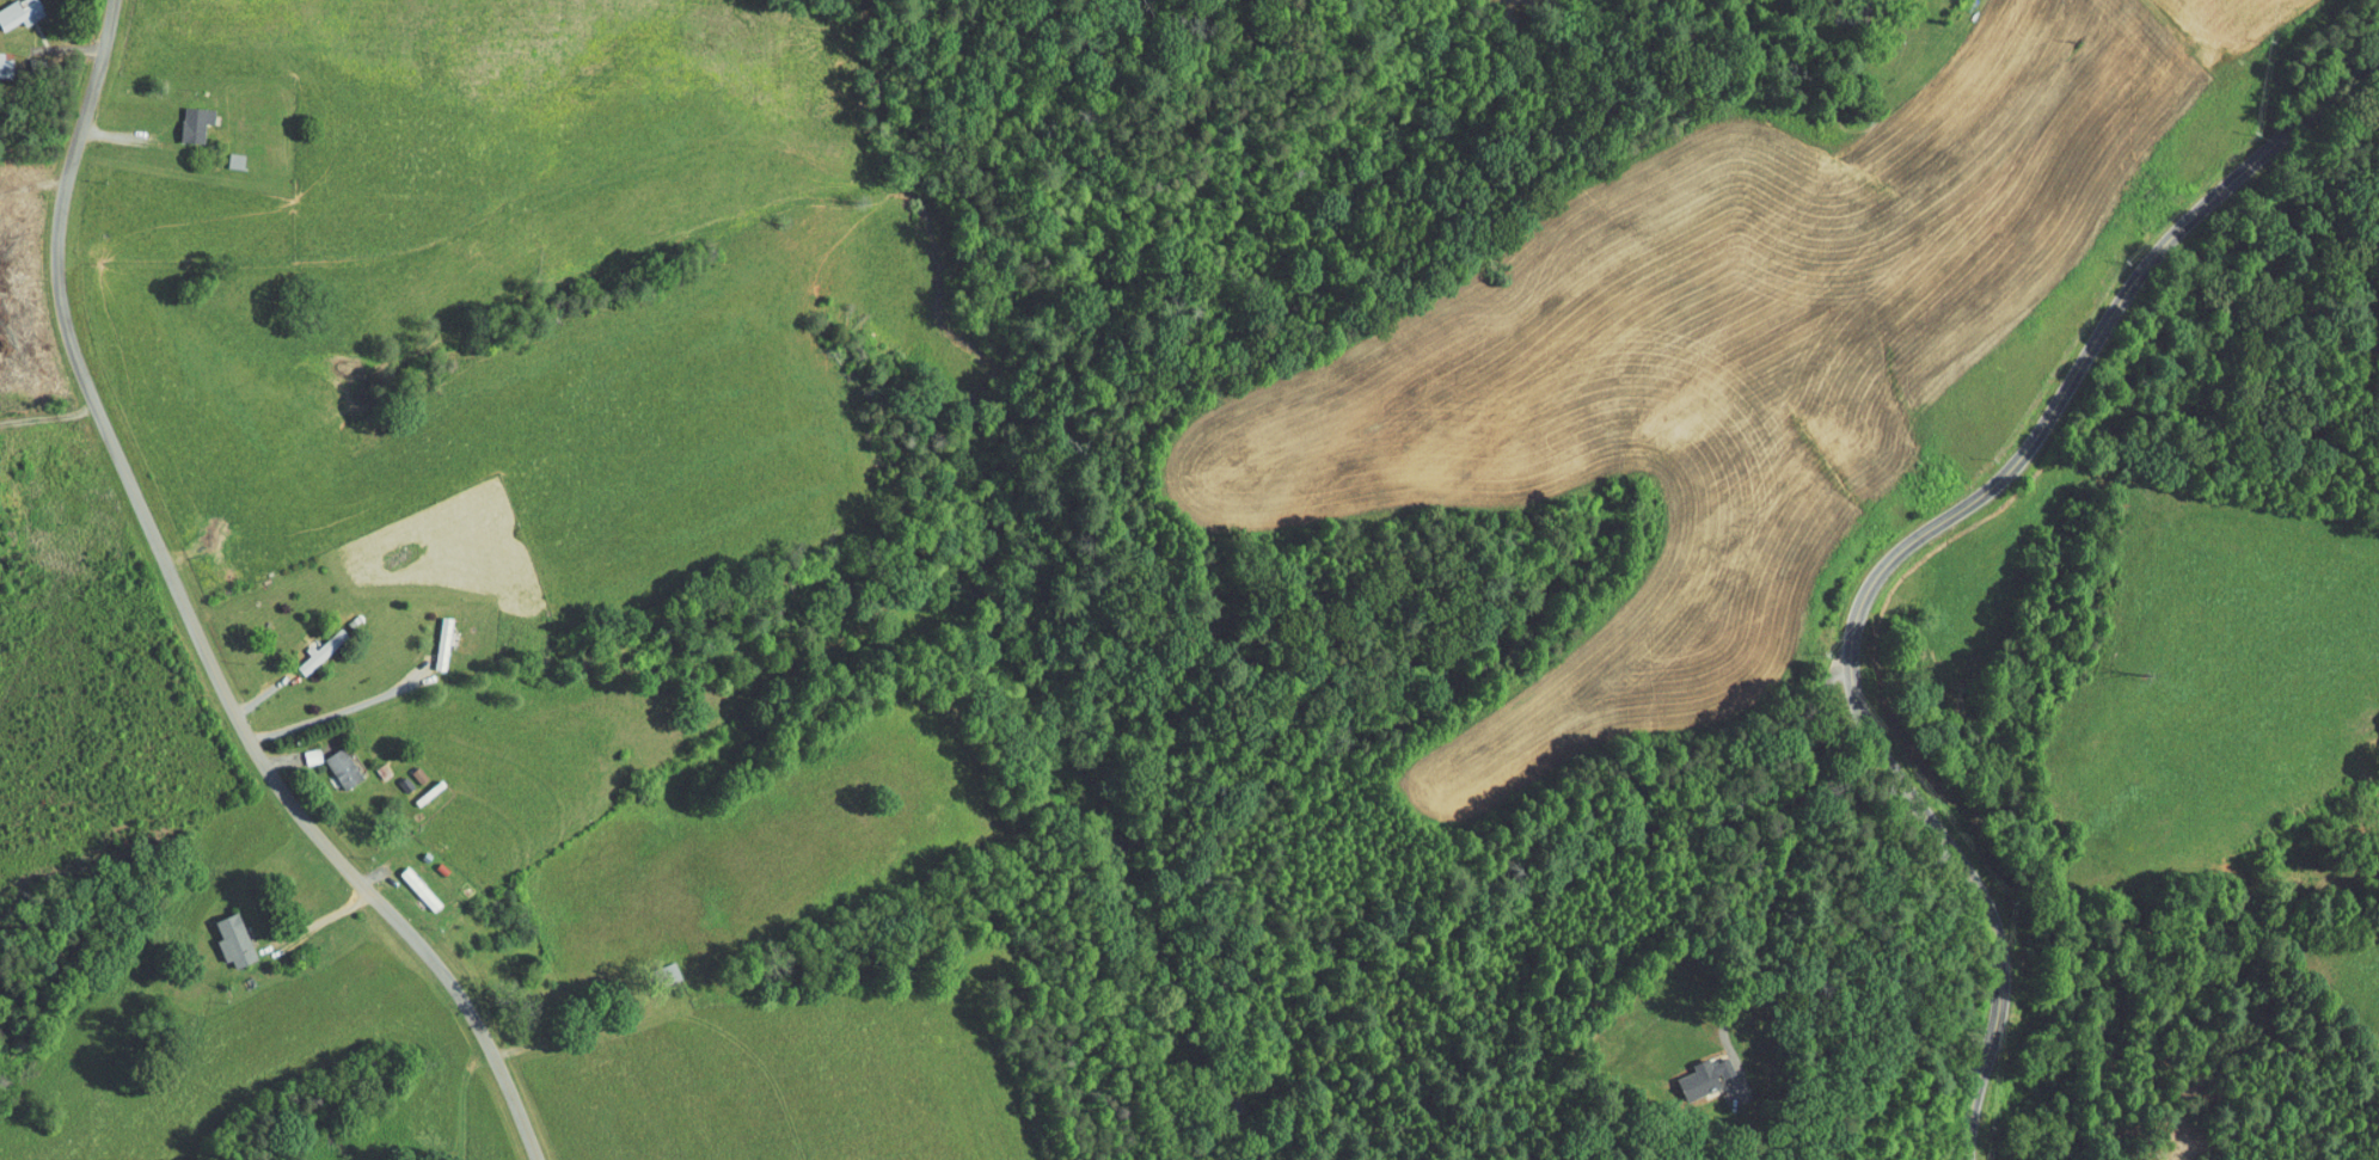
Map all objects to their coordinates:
road: (1905, 5)
building: (14, 7)
building: (1, 56)
building: (186, 116)
road: (1912, 542)
road: (191, 618)
building: (433, 633)
building: (312, 640)
building: (301, 747)
building: (332, 759)
building: (407, 766)
building: (410, 879)
building: (225, 932)
building: (1698, 1068)

